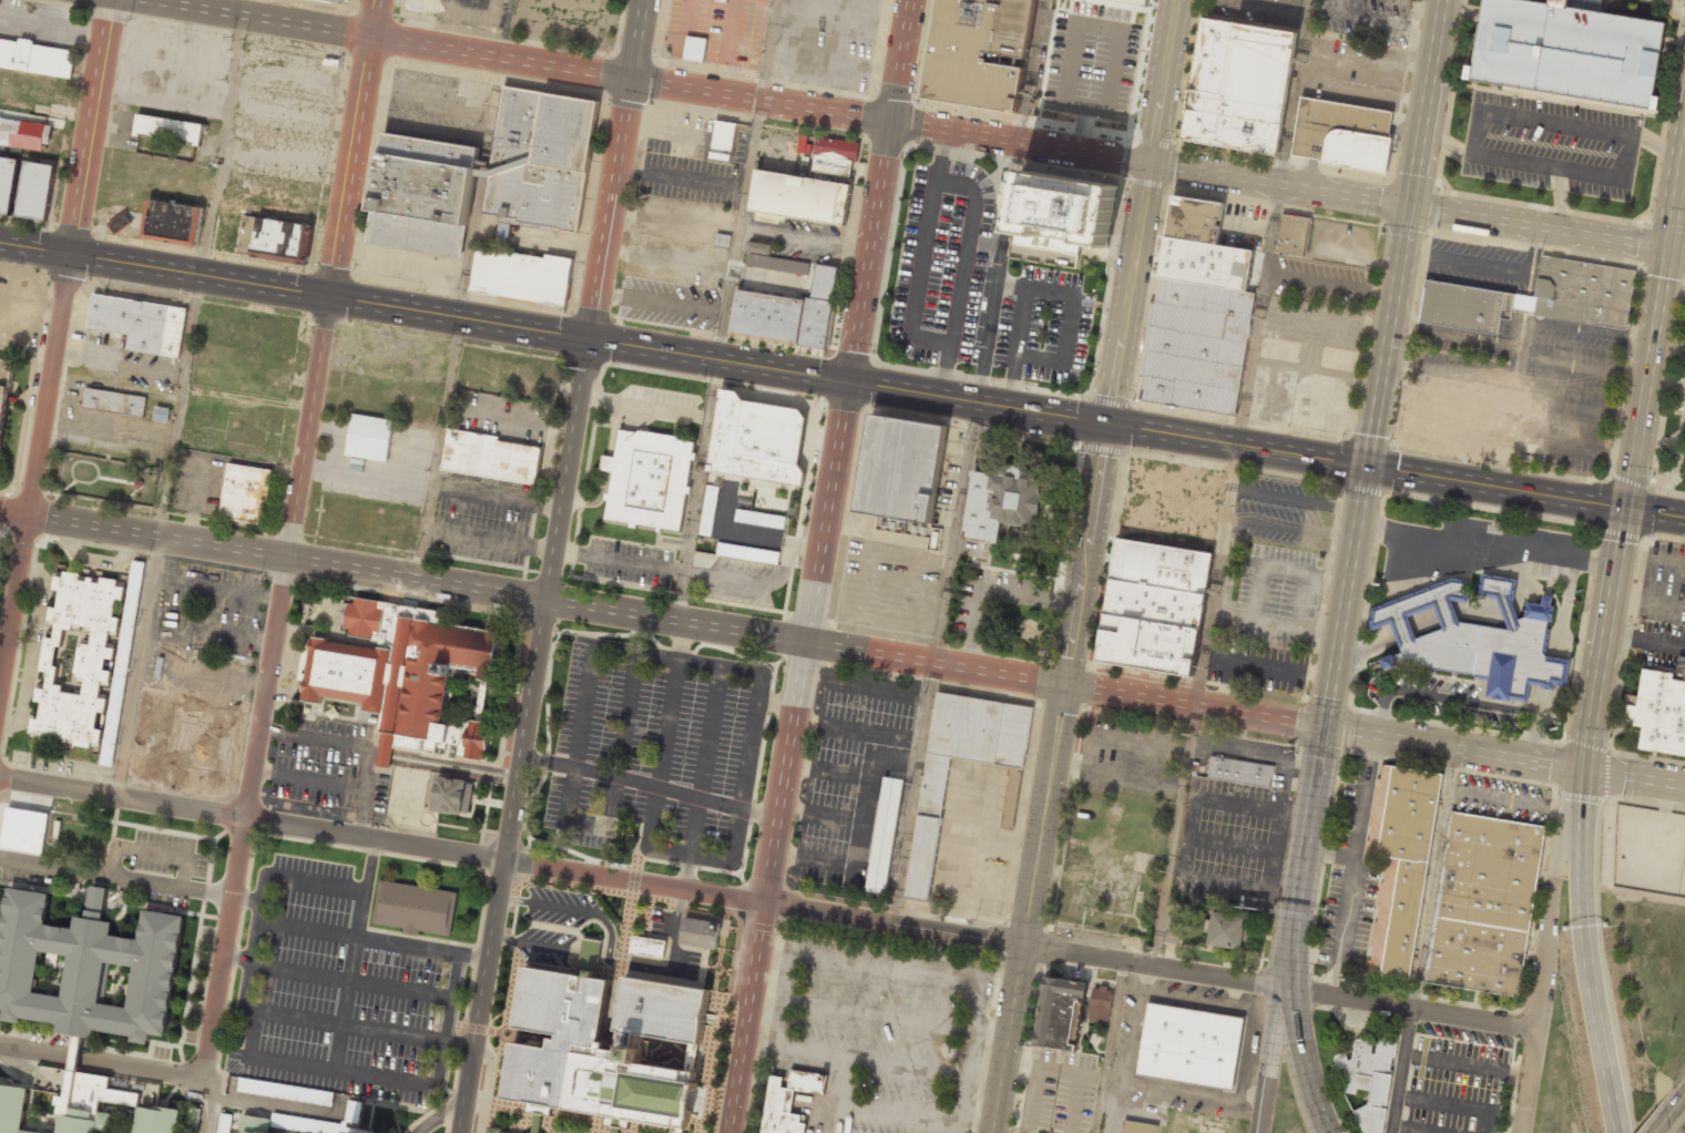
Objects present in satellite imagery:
building: (340, 1)
building: (1133, 2)
building: (1094, 31)
building: (694, 48)
building: (1566, 50)
parking garage: (1566, 50)
building: (980, 53)
building: (37, 58)
traffic signals: (629, 79)
road: (647, 81)
building: (1238, 85)
traffic signals: (891, 120)
building: (168, 129)
building: (24, 134)
building: (1341, 134)
building: (724, 139)
parking lot: (1552, 144)
road: (355, 149)
building: (541, 155)
building: (834, 155)
traffic signals: (1148, 164)
road: (613, 169)
building: (7, 182)
building: (35, 190)
road: (880, 190)
building: (421, 193)
building: (799, 195)
traffic signals: (1406, 204)
road: (1417, 206)
building: (1064, 212)
building: (1194, 218)
building: (121, 223)
building: (170, 223)
building: (503, 232)
road: (1401, 232)
building: (1293, 233)
building: (275, 239)
building: (722, 239)
parking lot: (1342, 242)
traffic signals: (1667, 254)
traffic signals: (70, 255)
building: (773, 259)
building: (1205, 263)
parking lot: (1478, 264)
road: (166, 271)
building: (522, 275)
parking lot: (1318, 282)
building: (1535, 297)
traffic signals: (333, 299)
building: (820, 304)
road: (1256, 315)
building: (768, 316)
road: (459, 319)
building: (140, 323)
building: (1684, 327)
traffic signals: (585, 339)
building: (1684, 340)
road: (1119, 343)
building: (1197, 345)
road: (54, 349)
parking lot: (1682, 349)
road: (718, 360)
parking lot: (1461, 361)
parking lot: (1306, 364)
traffic signals: (851, 381)
parking lot: (1679, 388)
building: (4, 389)
parking lot: (1566, 395)
building: (114, 401)
road: (979, 402)
building: (161, 414)
building: (1451, 422)
traffic signals: (1106, 423)
building: (367, 437)
building: (755, 439)
road: (1235, 445)
building: (489, 457)
traffic signals: (1366, 466)
building: (899, 468)
building: (647, 479)
road: (1524, 491)
building: (244, 493)
building: (1000, 502)
building: (1160, 509)
traffic signals: (1627, 509)
building: (707, 510)
parking lot: (1279, 510)
building: (759, 519)
parking lot: (1469, 545)
building: (747, 553)
park: (3, 557)
building: (1160, 565)
parking lot: (1664, 583)
parking lot: (1269, 592)
road: (1344, 595)
road: (532, 596)
building: (1154, 603)
building: (1470, 637)
parking lot: (1660, 643)
building: (1147, 644)
building: (88, 661)
building: (401, 673)
road: (265, 690)
road: (1193, 706)
building: (1660, 712)
traffic signals: (1321, 726)
road: (521, 736)
parking lot: (655, 753)
road: (1503, 755)
road: (789, 757)
traffic signals: (1583, 768)
building: (1240, 770)
building: (452, 796)
building: (1010, 798)
parking lot: (1501, 798)
road: (1045, 816)
road: (1306, 820)
building: (24, 830)
building: (925, 833)
building: (882, 835)
power substation: (1650, 849)
road: (512, 861)
building: (1399, 862)
parking lot: (1350, 886)
road: (1551, 896)
building: (1484, 902)
building: (412, 908)
building: (1228, 930)
building: (699, 932)
building: (646, 947)
road: (1285, 951)
road: (1290, 952)
road: (1152, 966)
building: (86, 967)
parking lot: (338, 990)
building: (1100, 1003)
road: (1406, 1009)
building: (1059, 1013)
road: (1408, 1030)
parking lot: (1467, 1034)
road: (1011, 1039)
building: (602, 1044)
building: (1189, 1045)
building: (73, 1053)
building: (691, 1057)
road: (1451, 1059)
road: (1267, 1060)
road: (1305, 1062)
road: (101, 1064)
road: (1402, 1073)
building: (1368, 1080)
road: (1526, 1081)
parking lot: (1456, 1086)
building: (285, 1091)
road: (1684, 1095)
building: (787, 1100)
building: (85, 1101)
road: (1446, 1102)
building: (11, 1109)
park: (1286, 1110)
road: (1397, 1112)
road: (1668, 1115)
building: (156, 1121)
building: (224, 1123)
building: (254, 1126)
building: (1137, 1127)
road: (1393, 1130)
road: (1416, 1130)
building: (365, 1132)
building: (501, 1132)

